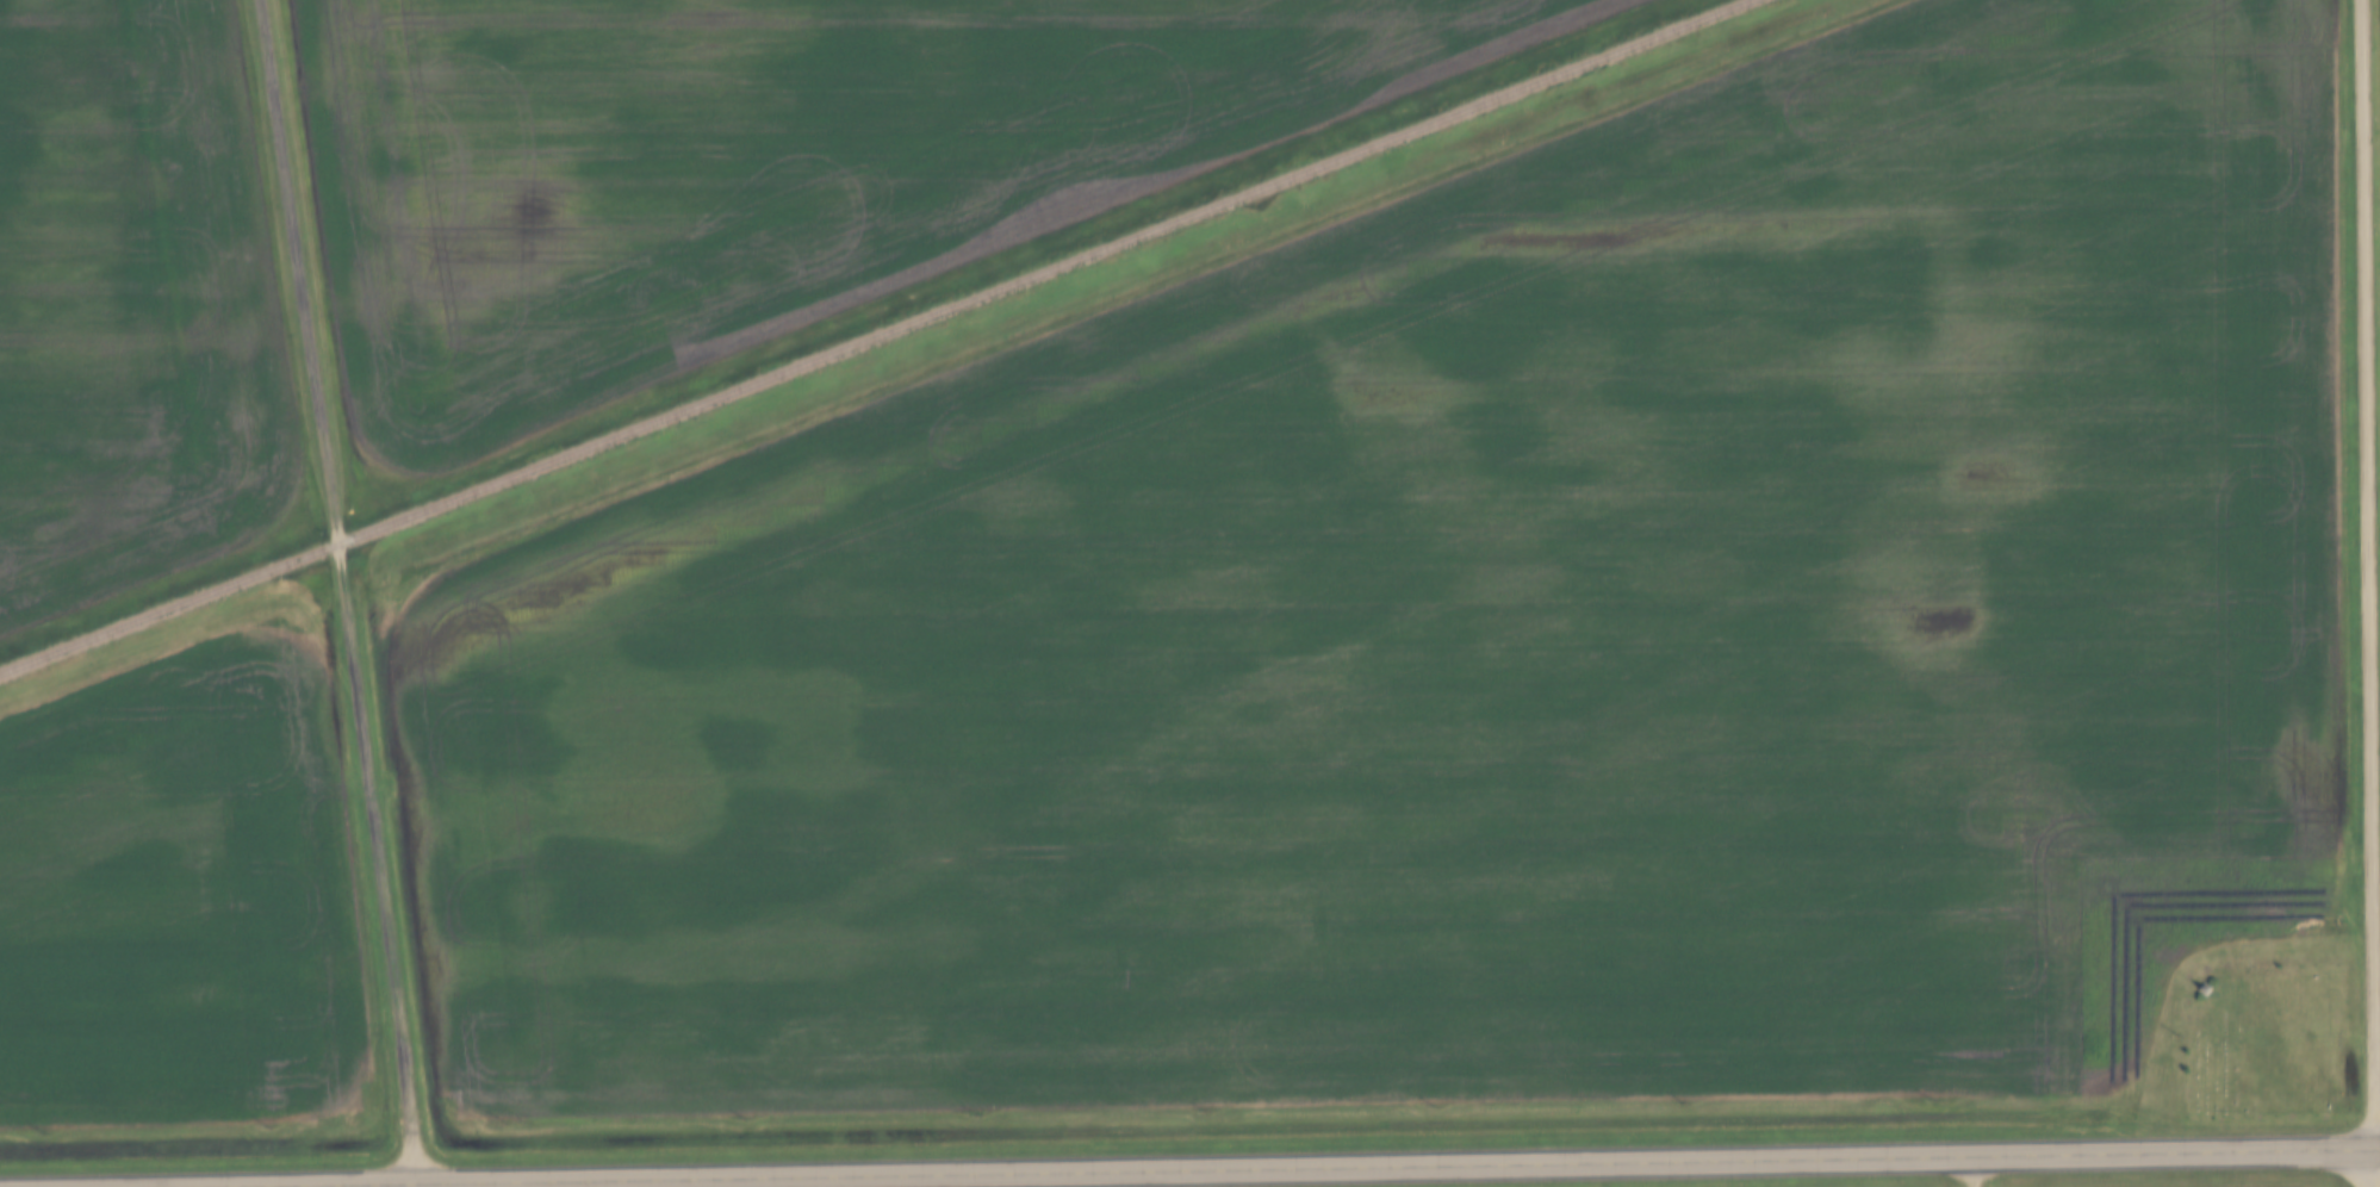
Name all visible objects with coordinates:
railway: (880, 337)
road: (2370, 574)
road: (341, 591)
road: (1359, 1167)
road: (2378, 1169)

